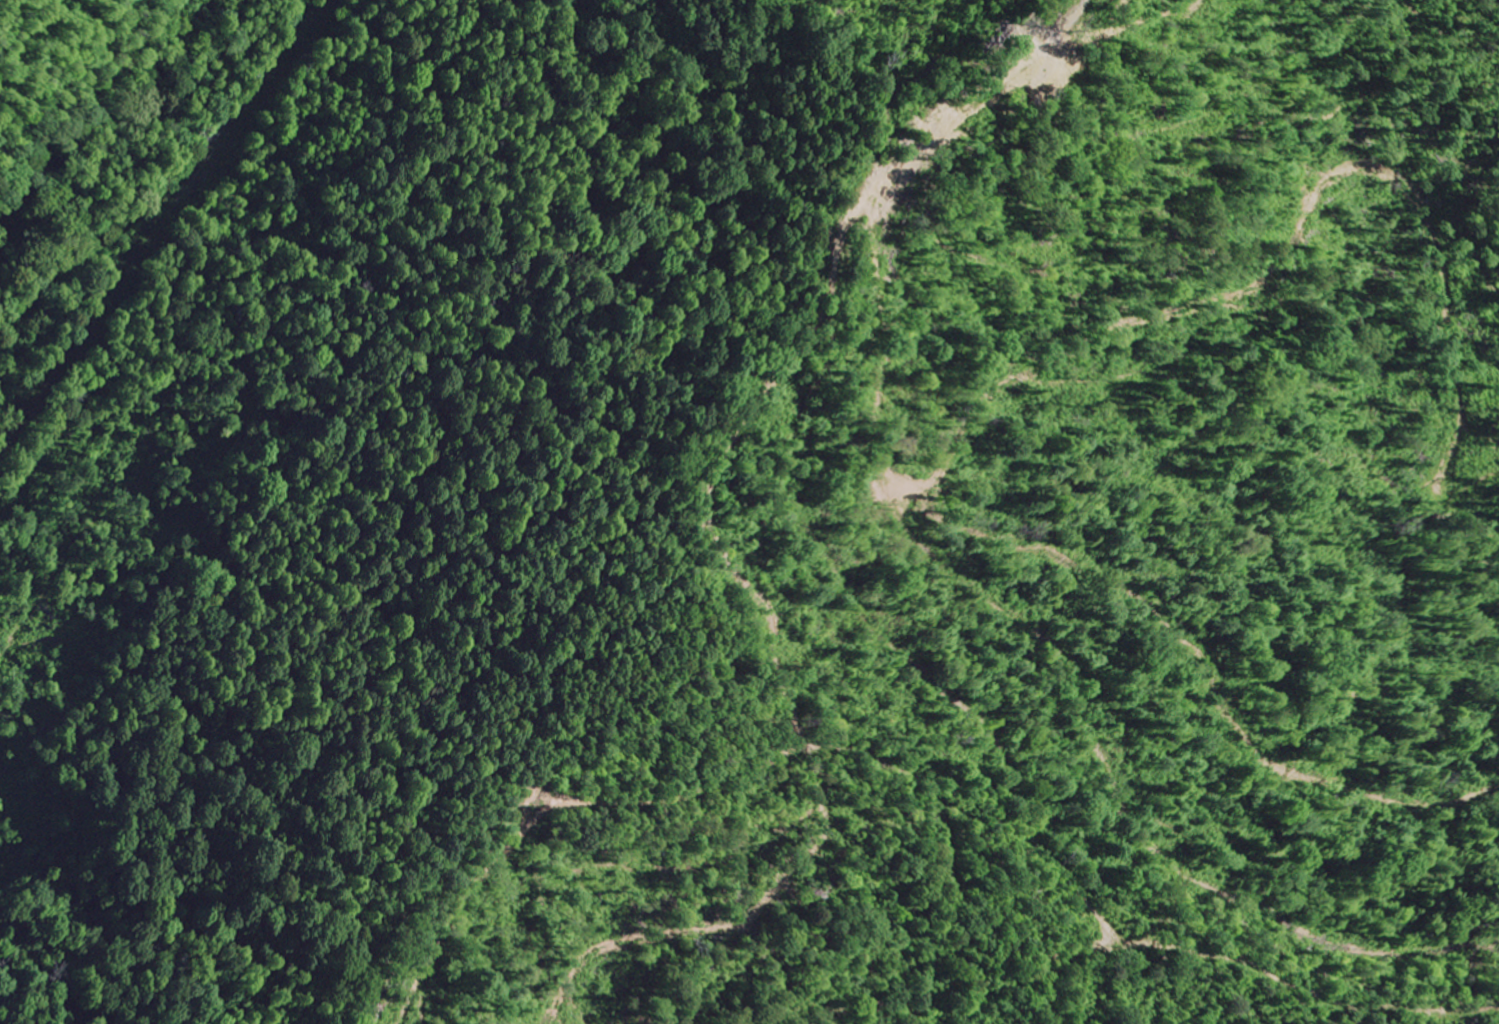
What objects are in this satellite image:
road: (170, 179)

